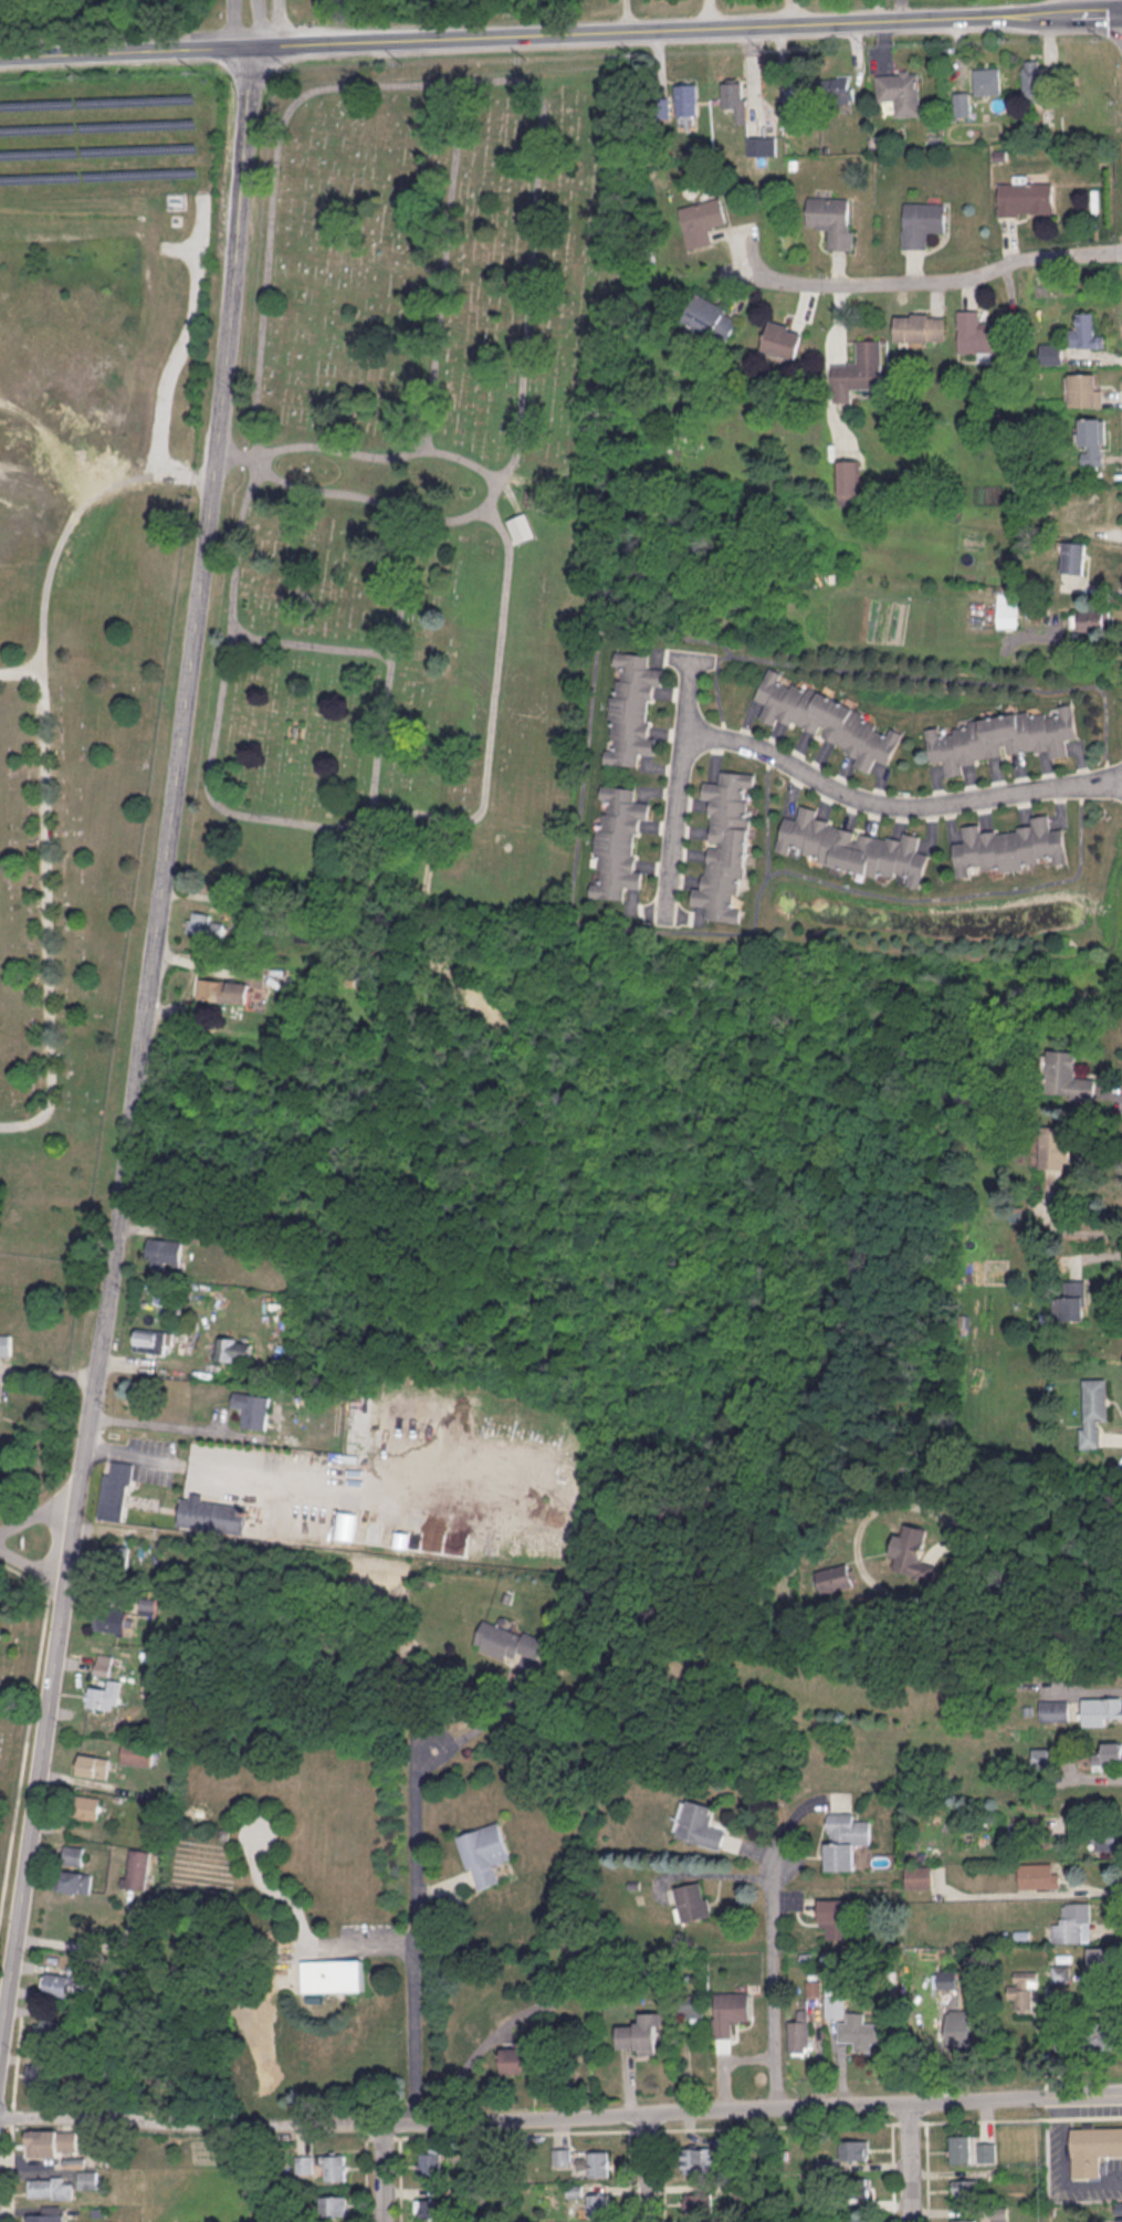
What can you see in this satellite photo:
road: (709, 14)
road: (623, 15)
road: (281, 21)
road: (237, 22)
road: (691, 29)
road: (129, 48)
building: (1035, 78)
building: (987, 81)
building: (797, 90)
building: (839, 90)
building: (900, 91)
building: (686, 98)
building: (735, 98)
building: (962, 103)
solar farm: (106, 136)
building: (761, 145)
building: (1026, 197)
road: (531, 207)
building: (835, 219)
building: (702, 220)
building: (923, 222)
road: (440, 264)
road: (944, 280)
building: (711, 317)
building: (920, 327)
building: (1087, 331)
building: (977, 334)
building: (783, 339)
road: (179, 343)
building: (859, 371)
building: (1083, 389)
building: (1092, 434)
road: (355, 452)
park: (412, 478)
building: (849, 481)
road: (365, 495)
building: (533, 496)
building: (1094, 504)
building: (1049, 517)
building: (1074, 556)
building: (1009, 609)
building: (1093, 619)
road: (1080, 630)
road: (306, 642)
road: (21, 672)
building: (631, 710)
building: (829, 720)
building: (1000, 737)
road: (44, 762)
park: (77, 780)
road: (678, 786)
road: (895, 806)
road: (264, 815)
building: (618, 840)
building: (726, 843)
building: (853, 847)
building: (1009, 847)
building: (203, 923)
building: (224, 989)
road: (143, 1042)
building: (1067, 1076)
building: (1055, 1146)
road: (1067, 1231)
building: (162, 1251)
building: (1073, 1300)
building: (154, 1341)
building: (6, 1345)
building: (234, 1349)
road: (49, 1374)
building: (253, 1408)
building: (1094, 1411)
road: (175, 1427)
road: (312, 1477)
building: (164, 1505)
road: (38, 1514)
building: (346, 1524)
building: (914, 1552)
road: (1041, 1552)
road: (33, 1566)
building: (836, 1578)
building: (112, 1621)
building: (507, 1641)
building: (103, 1664)
road: (1086, 1690)
building: (104, 1696)
building: (1053, 1709)
building: (1101, 1710)
road: (28, 1725)
building: (137, 1752)
building: (1108, 1755)
building: (1040, 1757)
building: (93, 1765)
building: (87, 1806)
building: (699, 1824)
building: (846, 1840)
building: (1107, 1843)
building: (484, 1854)
building: (73, 1855)
building: (137, 1867)
building: (1038, 1874)
building: (919, 1876)
building: (75, 1880)
building: (693, 1900)
building: (836, 1916)
building: (1073, 1922)
road: (413, 1929)
building: (1105, 1960)
building: (333, 1974)
building: (946, 1978)
road: (773, 1981)
building: (57, 1983)
building: (1021, 1989)
building: (691, 2004)
building: (835, 2005)
road: (22, 2011)
building: (731, 2012)
building: (961, 2022)
building: (800, 2029)
building: (860, 2031)
building: (641, 2032)
building: (1103, 2038)
road: (17, 2058)
building: (515, 2059)
building: (39, 2074)
road: (560, 2117)
road: (1019, 2118)
road: (908, 2120)
road: (773, 2126)
road: (646, 2128)
road: (515, 2131)
road: (381, 2137)
building: (52, 2141)
building: (958, 2148)
building: (1093, 2148)
building: (854, 2149)
building: (986, 2151)
building: (698, 2159)
building: (599, 2162)
road: (915, 2162)
road: (12, 2163)
building: (304, 2163)
building: (429, 2165)
building: (335, 2167)
road: (648, 2168)
road: (892, 2168)
road: (384, 2171)
road: (925, 2171)
road: (629, 2176)
road: (663, 2176)
building: (88, 2178)
road: (366, 2178)
road: (400, 2179)
building: (51, 2187)
building: (856, 2187)
building: (965, 2188)
building: (698, 2202)
building: (598, 2203)
building: (334, 2204)
building: (430, 2208)
building: (1119, 2208)
building: (49, 2213)
building: (857, 2219)
building: (1119, 2219)
building: (962, 2220)

